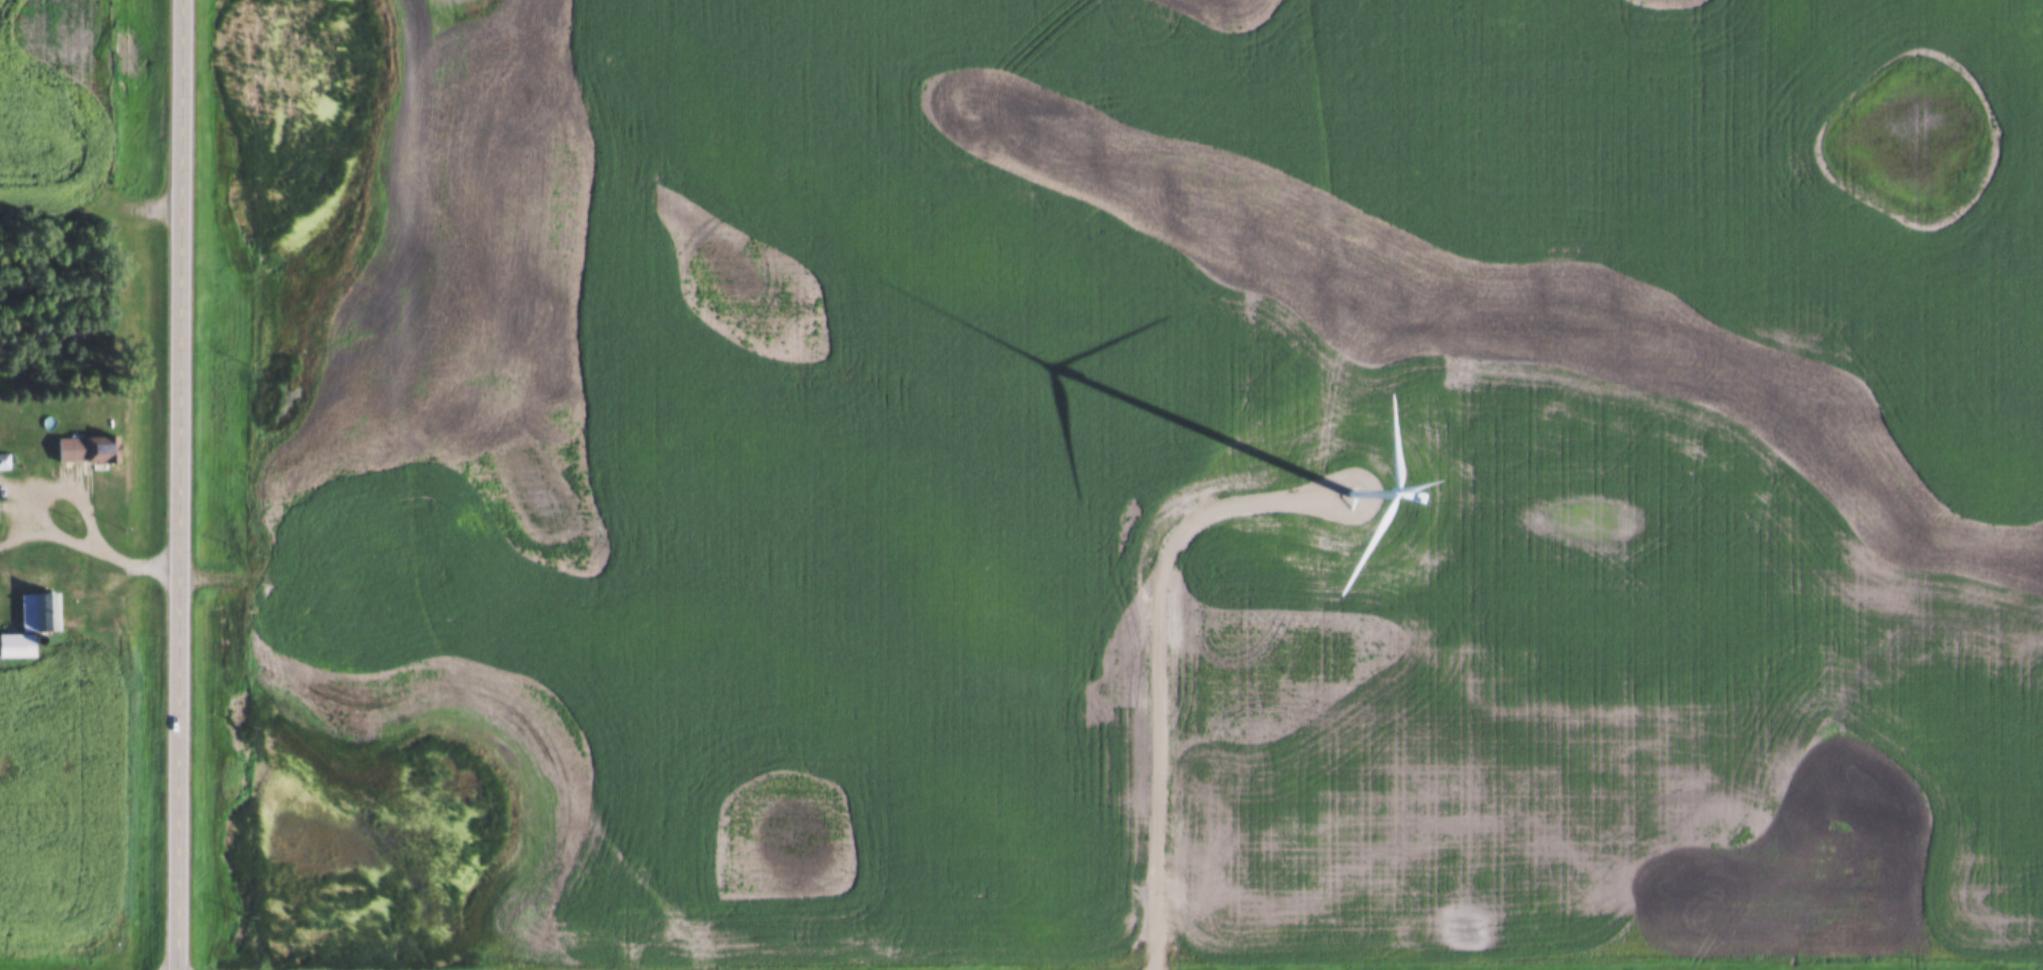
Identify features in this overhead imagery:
building: (88, 450)
road: (183, 485)
wind turbine: (1339, 487)
road: (71, 492)
road: (49, 536)
road: (139, 569)
building: (36, 615)
building: (16, 646)

